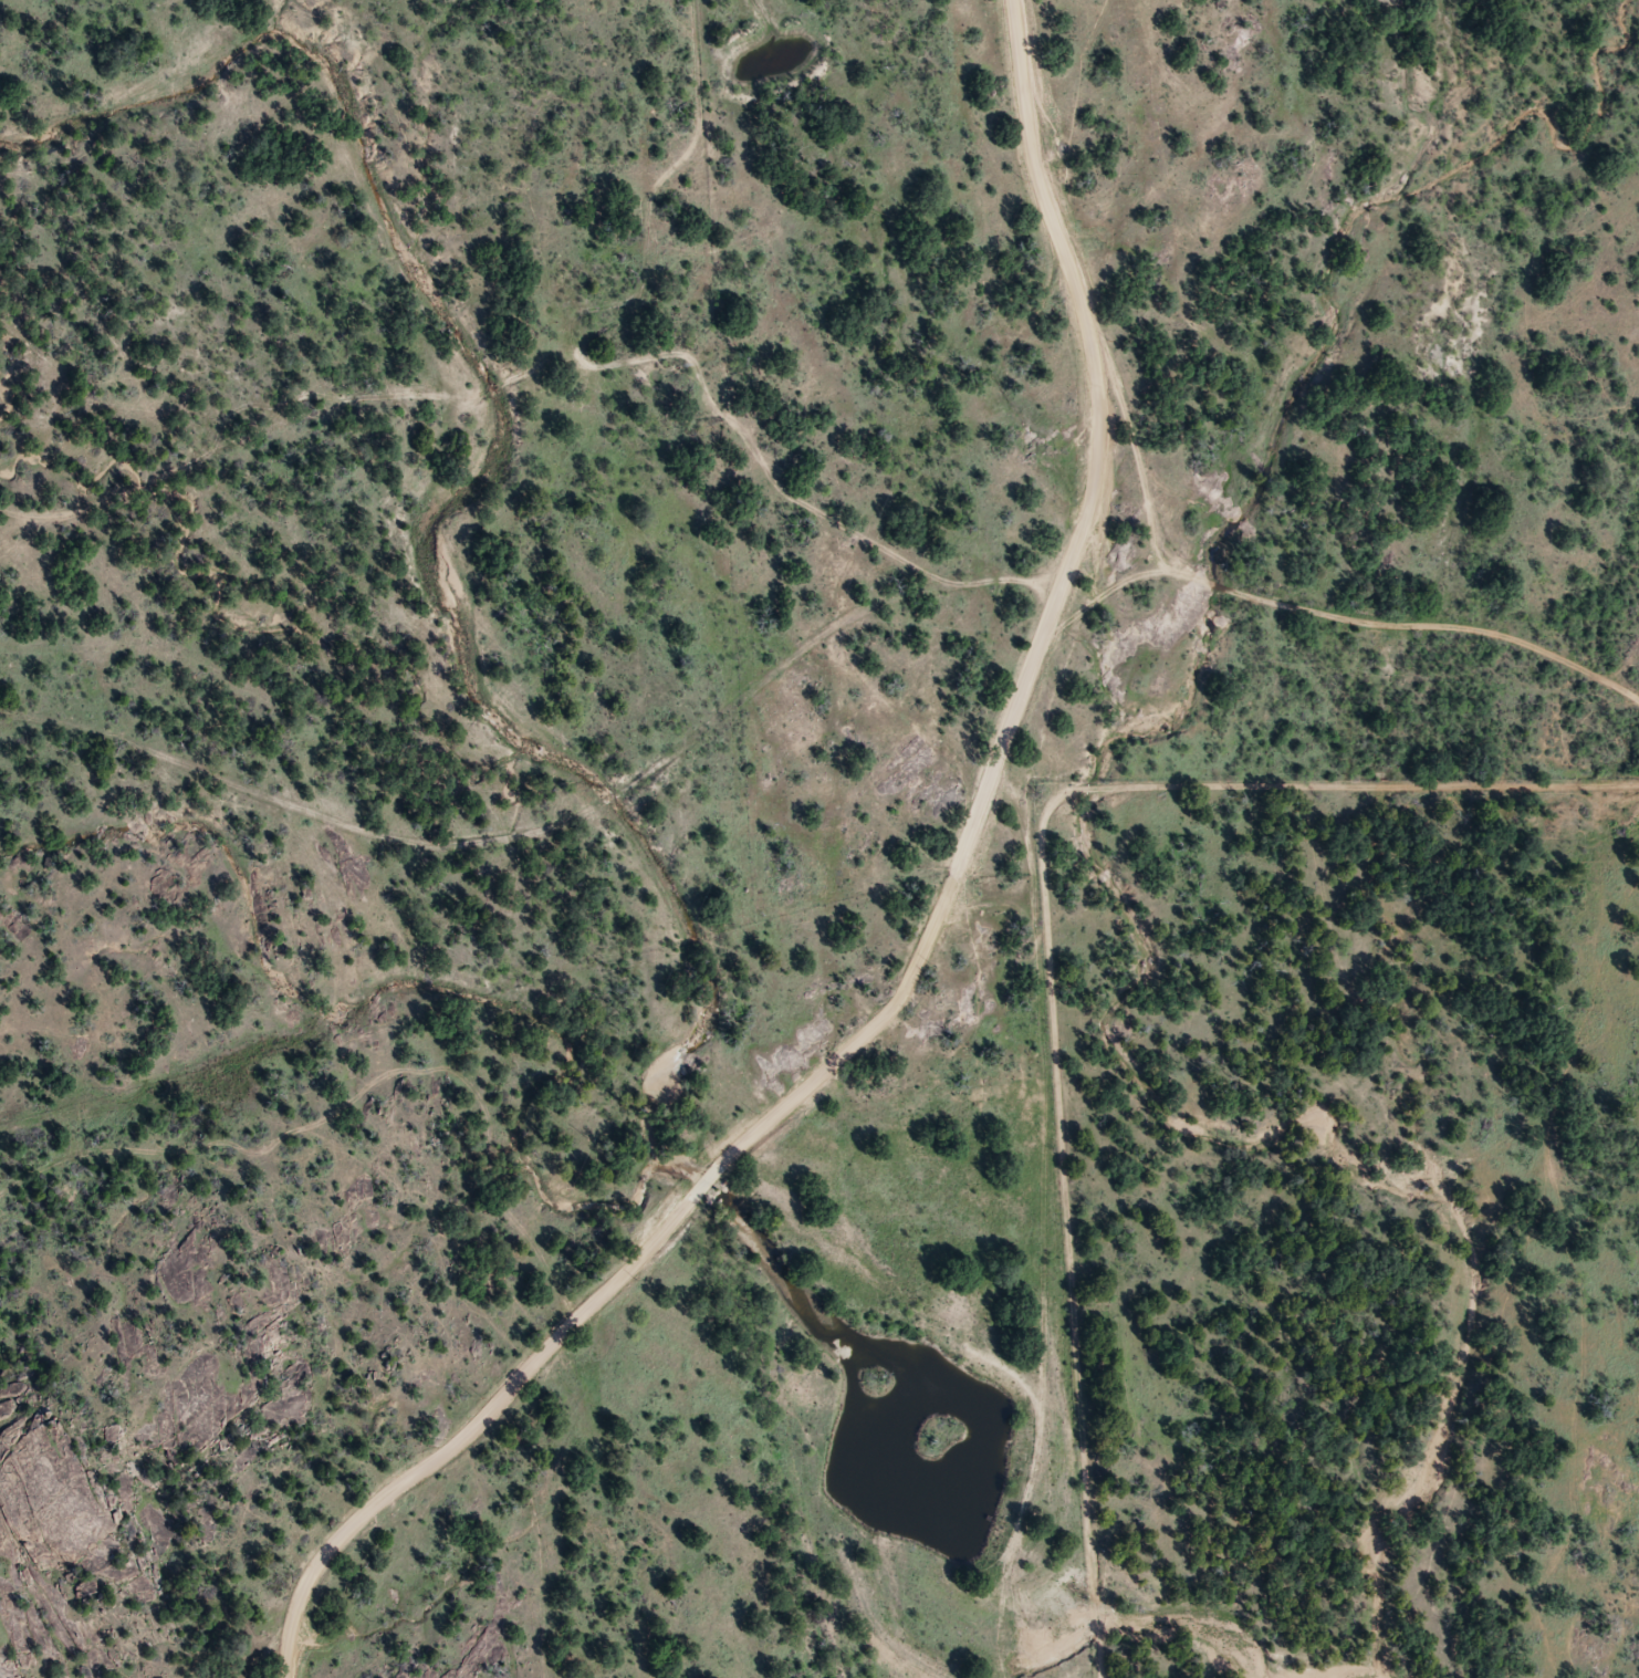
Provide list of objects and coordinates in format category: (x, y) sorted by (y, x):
road: (925, 949)

